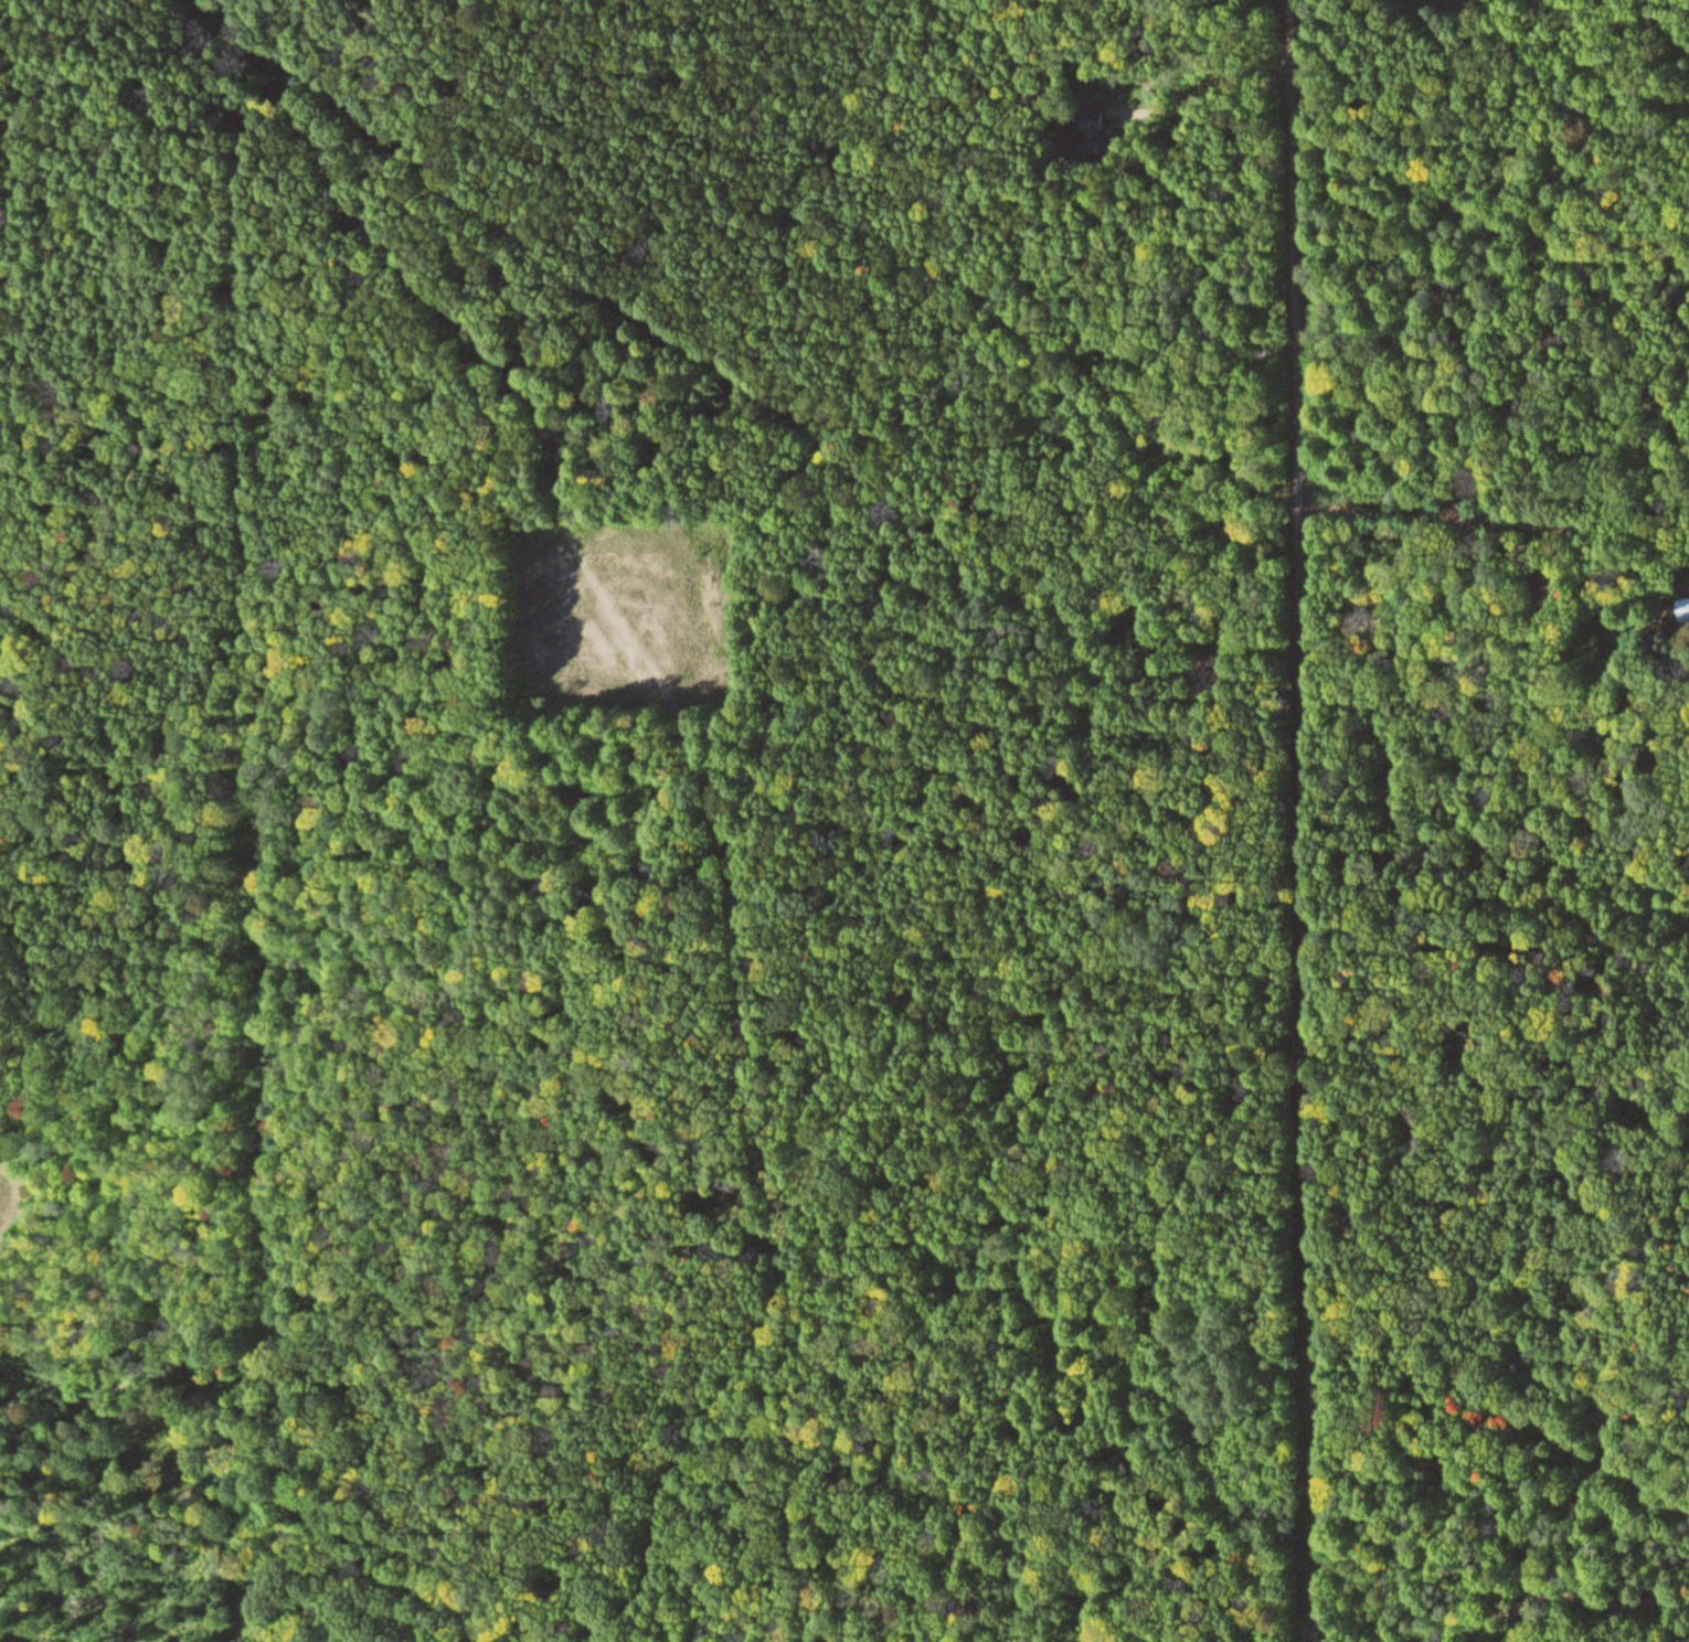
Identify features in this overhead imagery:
road: (1500, 512)
petroleum well: (636, 596)
building: (1688, 607)
road: (718, 780)
road: (1306, 859)
road: (1569, 1598)

